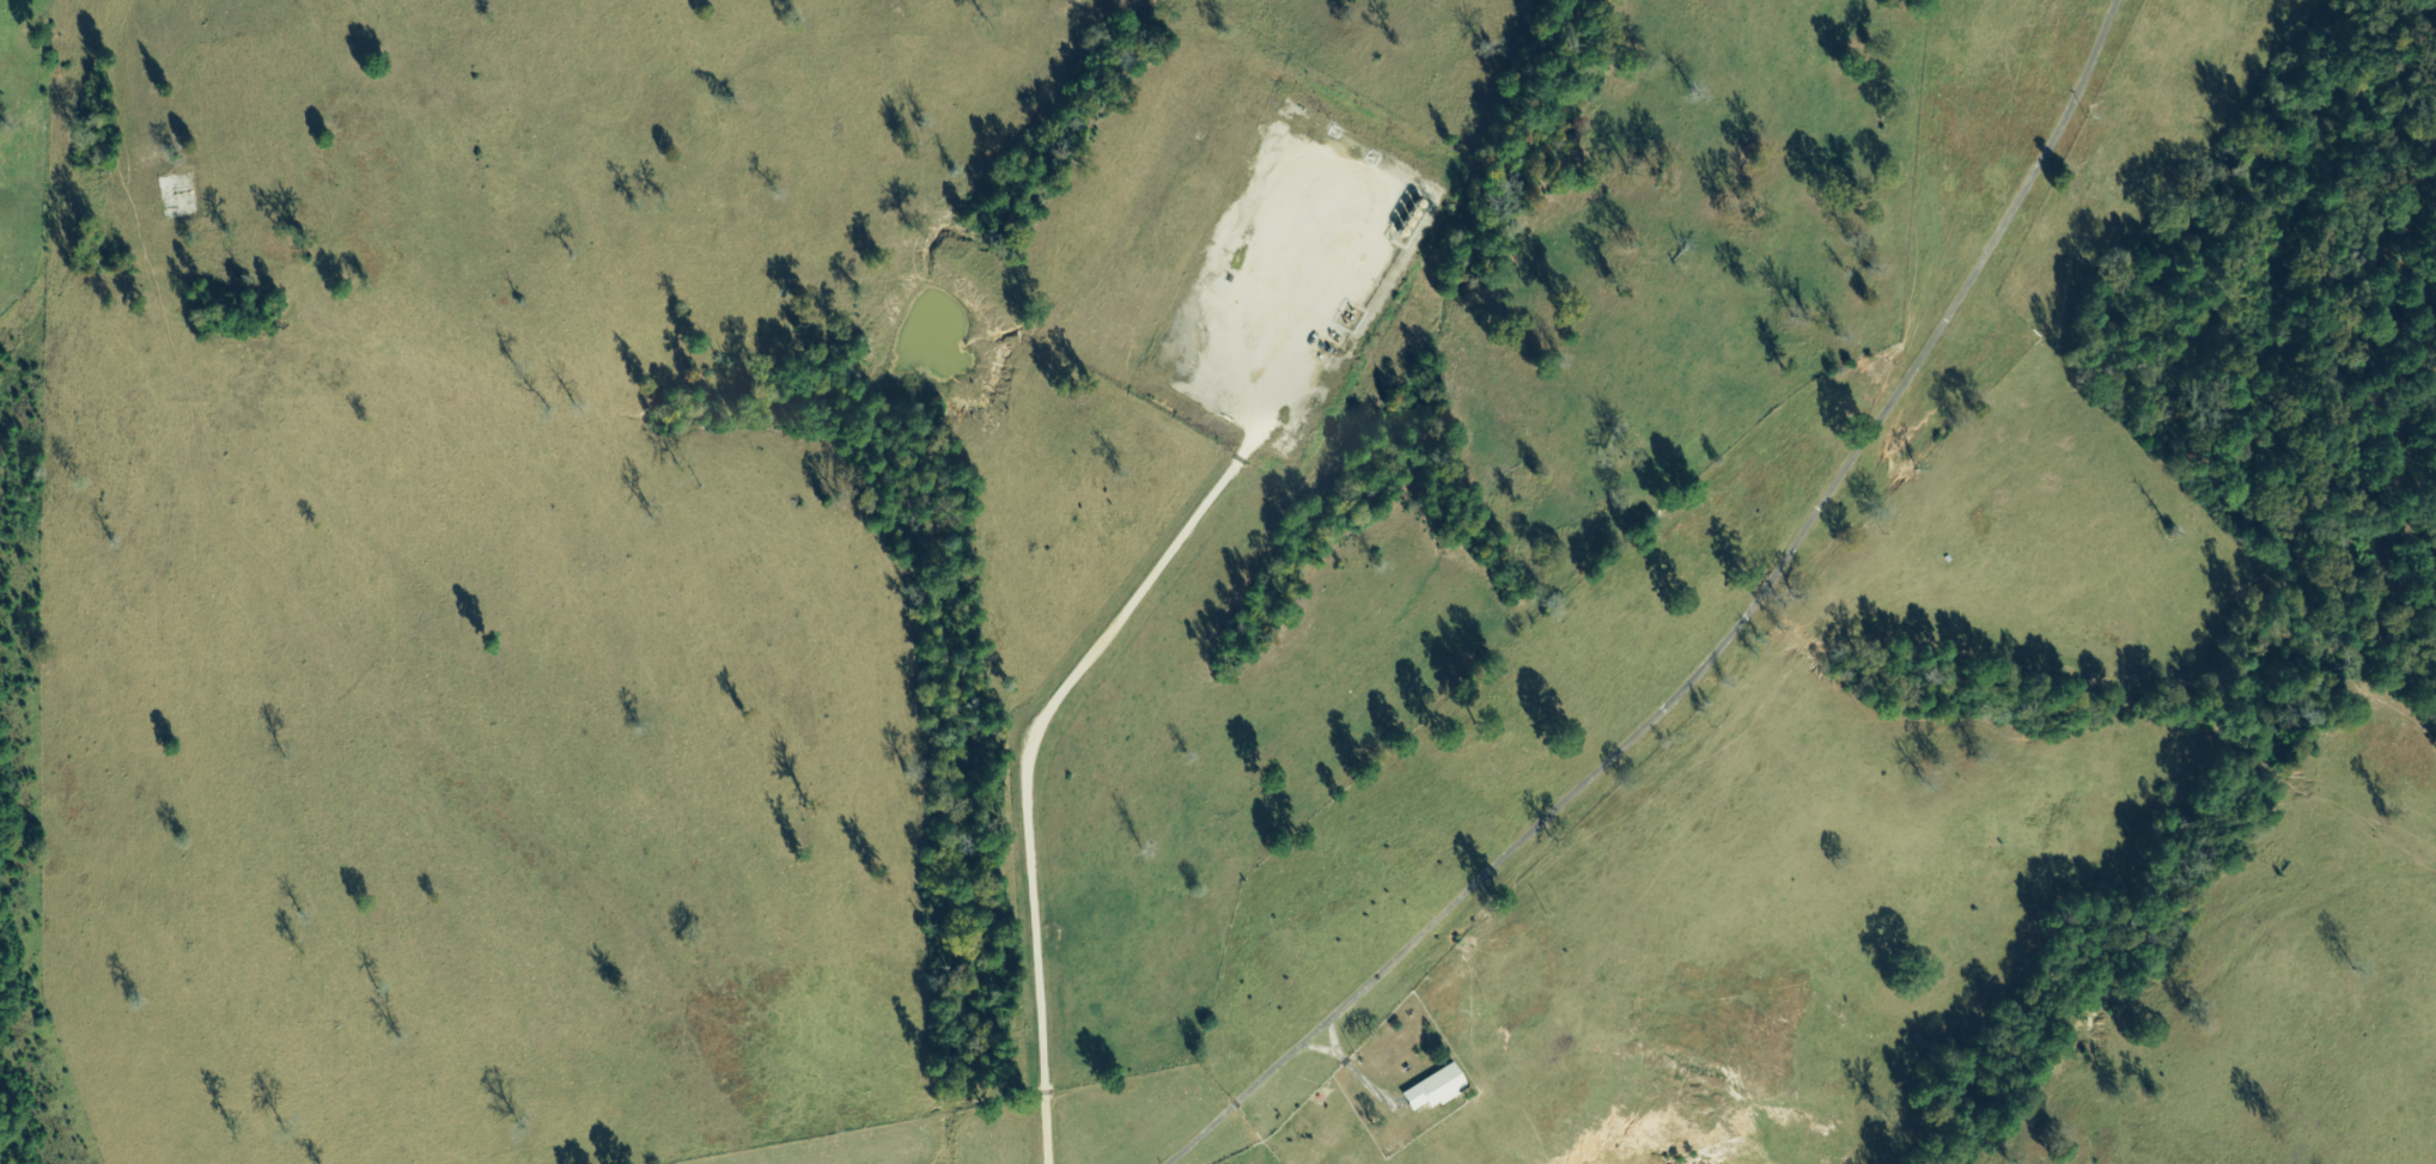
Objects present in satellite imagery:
road: (1716, 653)
building: (1437, 1089)

